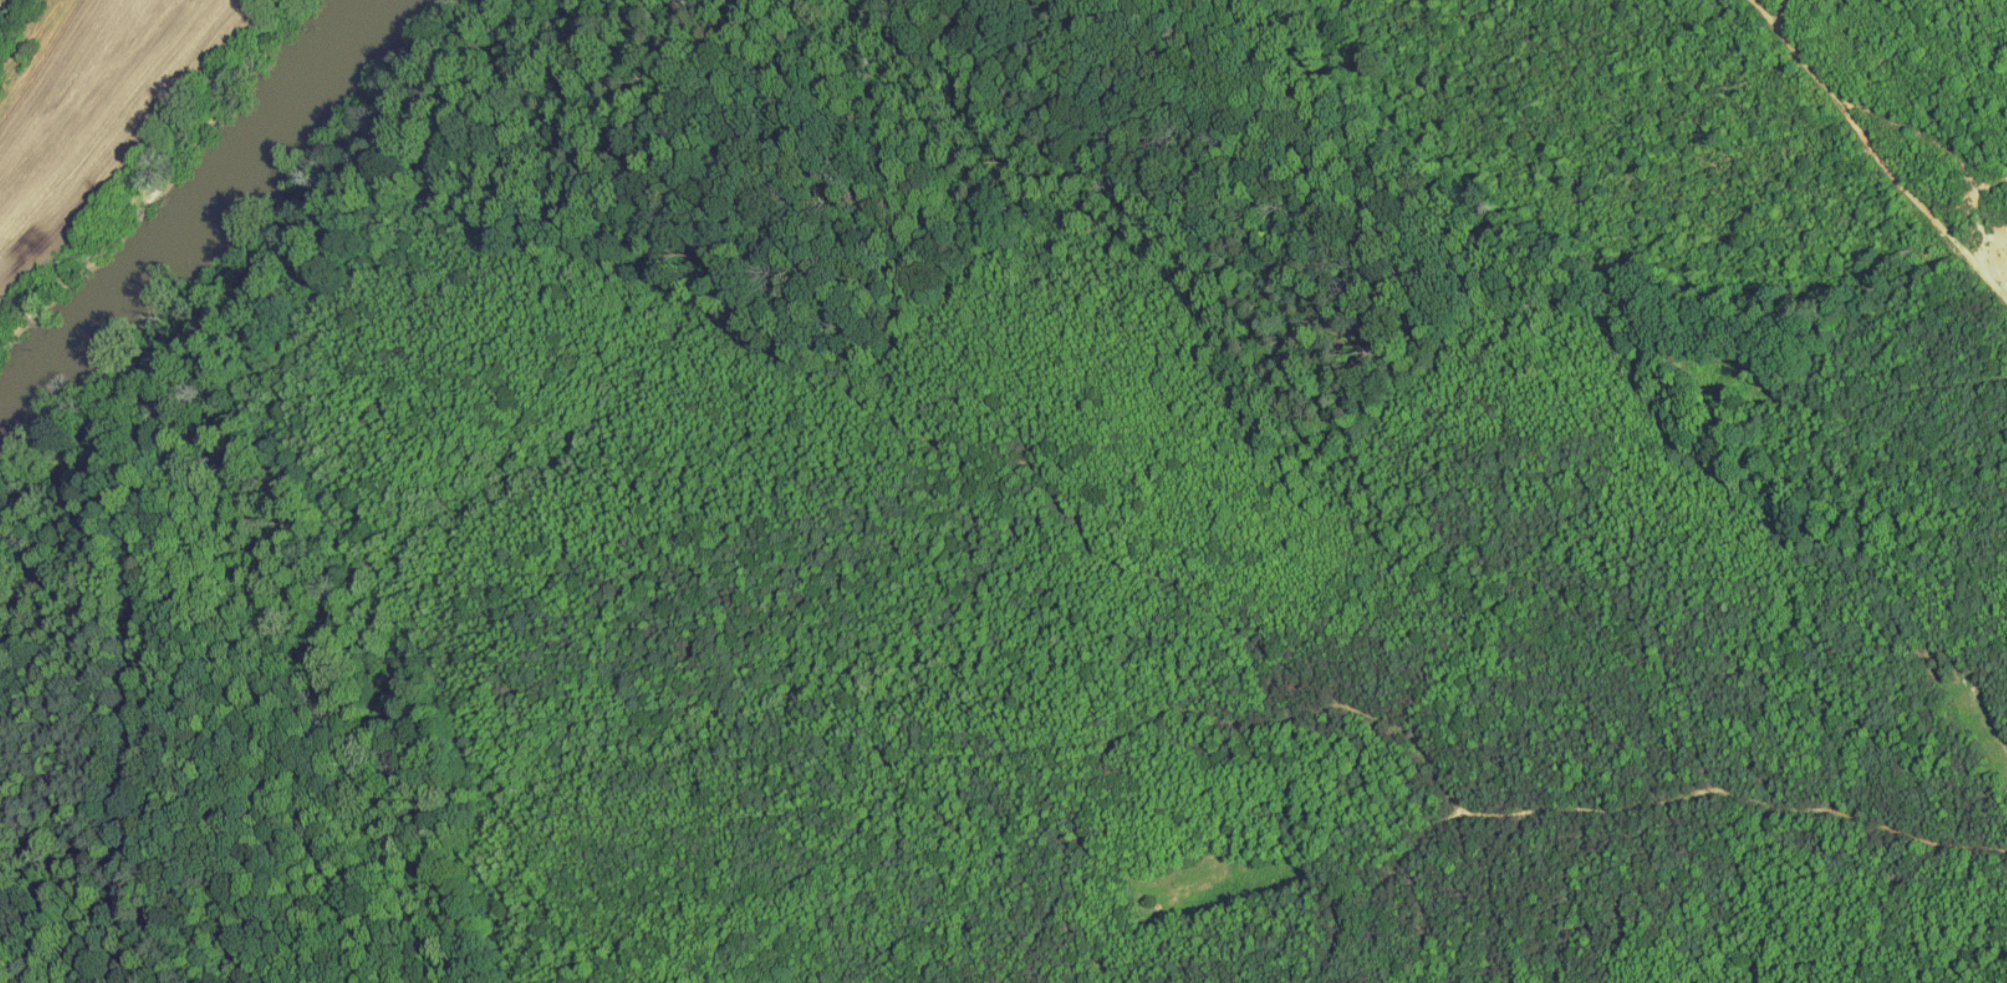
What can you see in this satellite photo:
river: (194, 214)

